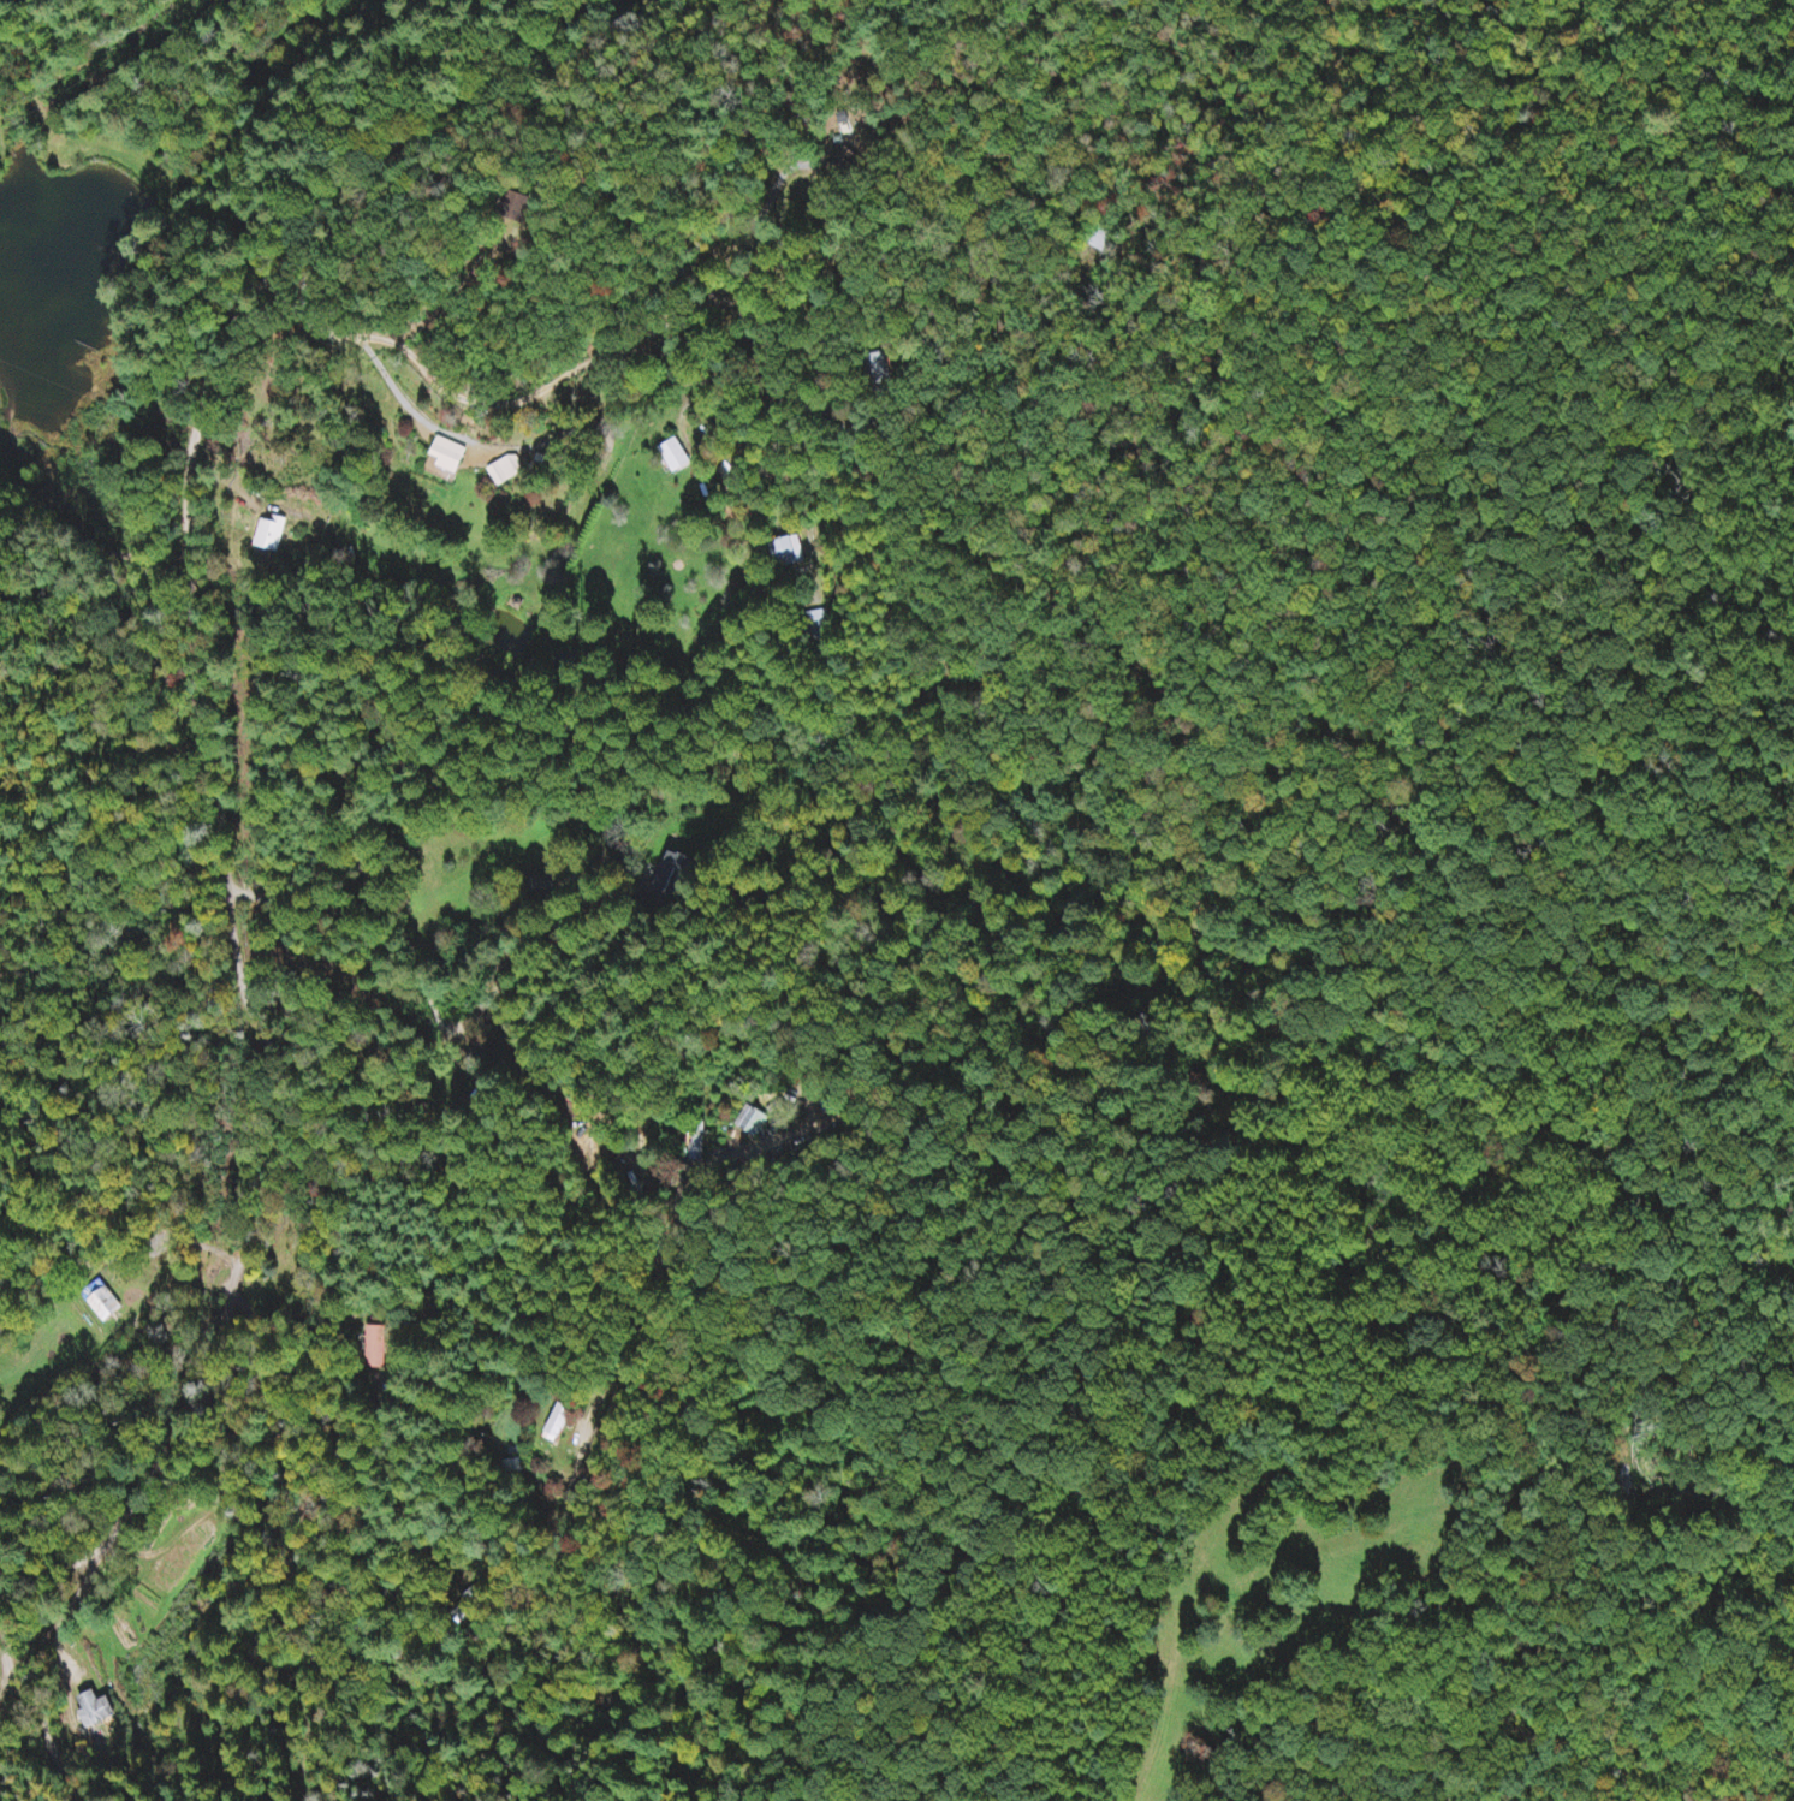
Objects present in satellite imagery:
road: (612, 353)
building: (451, 458)
building: (510, 472)
building: (272, 536)
road: (224, 869)
road: (433, 1003)
building: (753, 1123)
road: (475, 1628)
building: (93, 1712)

